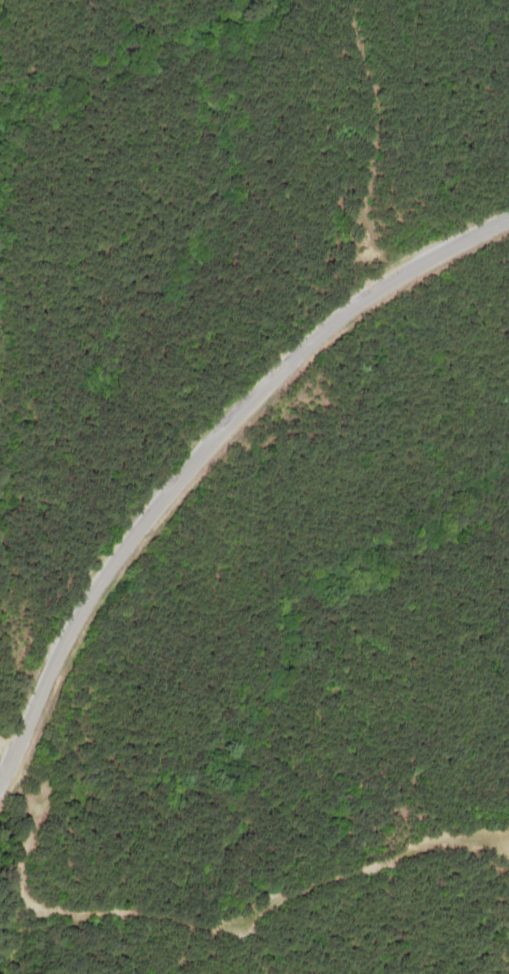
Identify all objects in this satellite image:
road: (181, 439)

